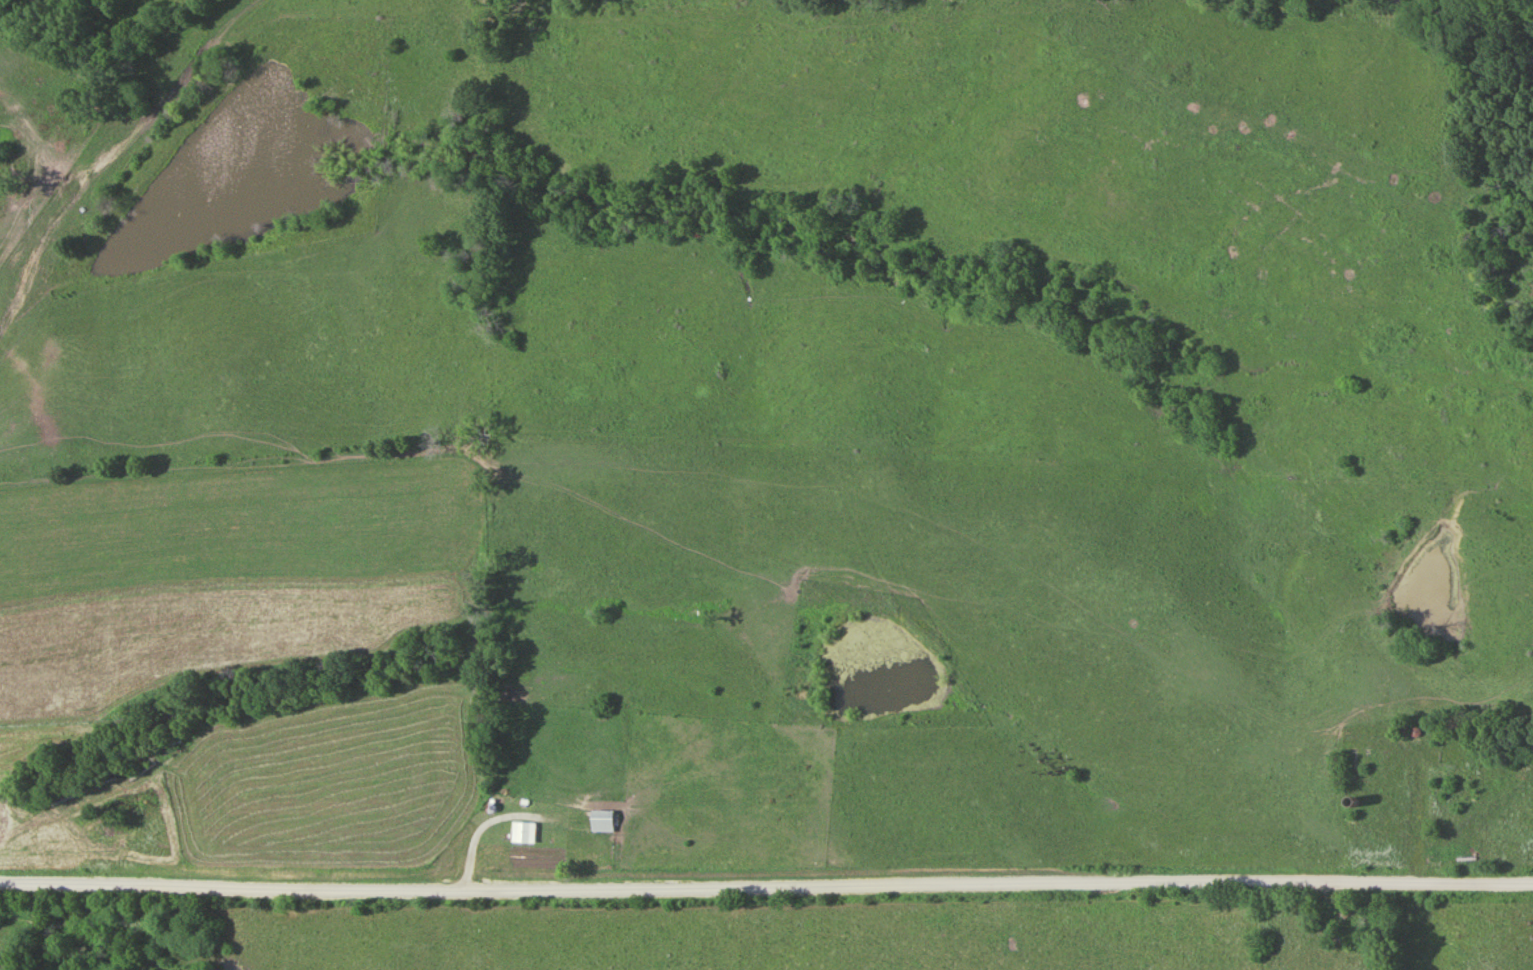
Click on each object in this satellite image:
road: (1418, 785)
building: (605, 823)
building: (526, 834)
road: (766, 888)
road: (1320, 927)

